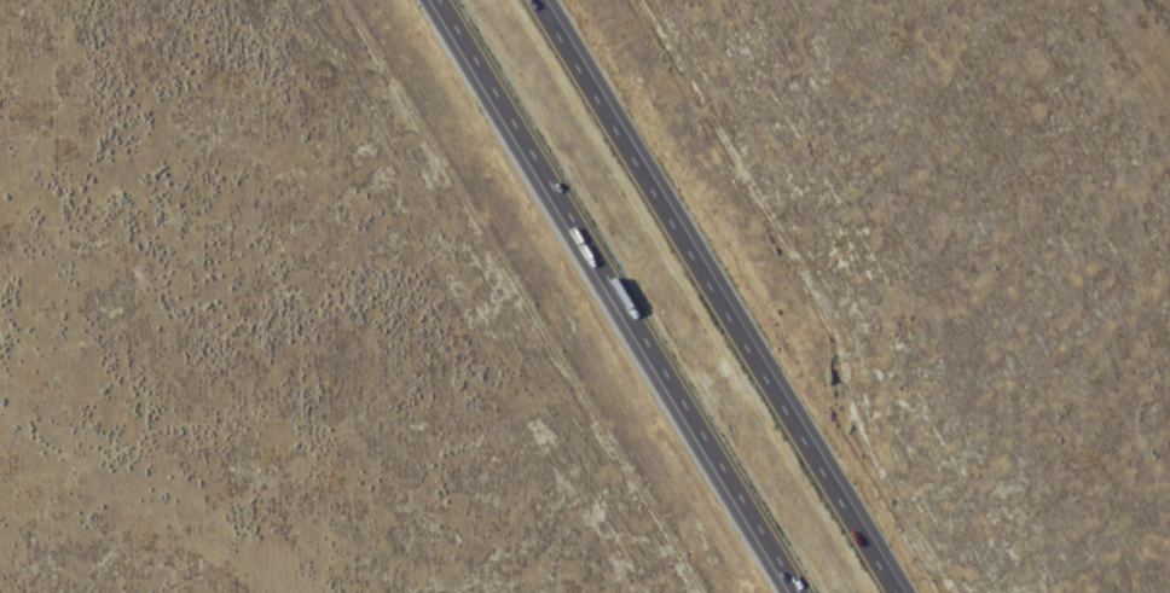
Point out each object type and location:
road: (627, 296)
road: (717, 296)

